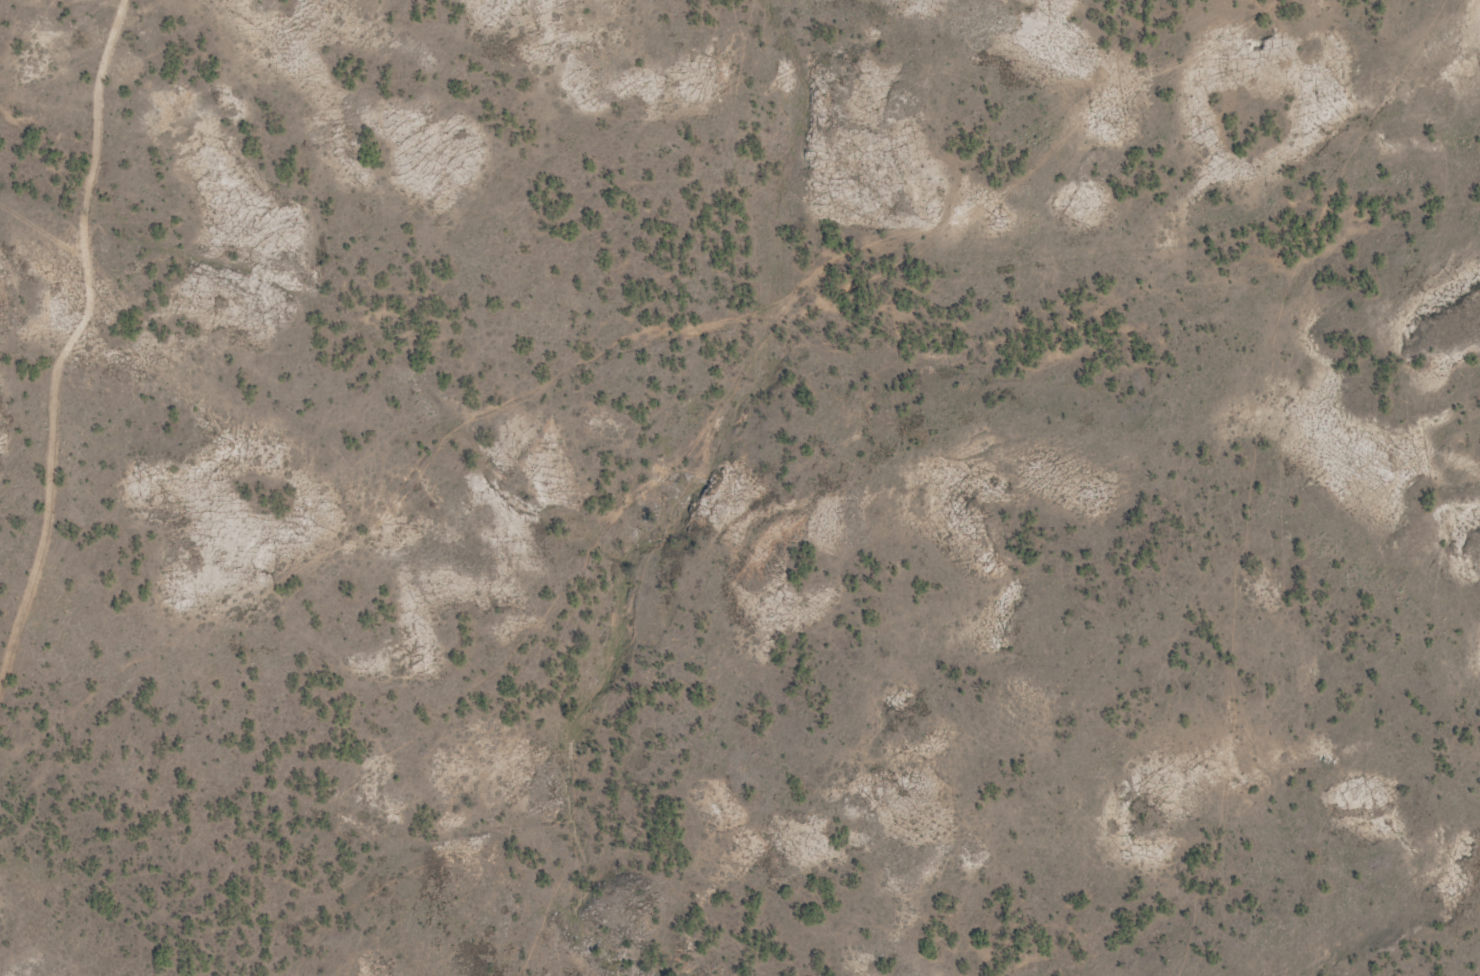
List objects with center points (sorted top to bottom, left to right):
road: (727, 284)

